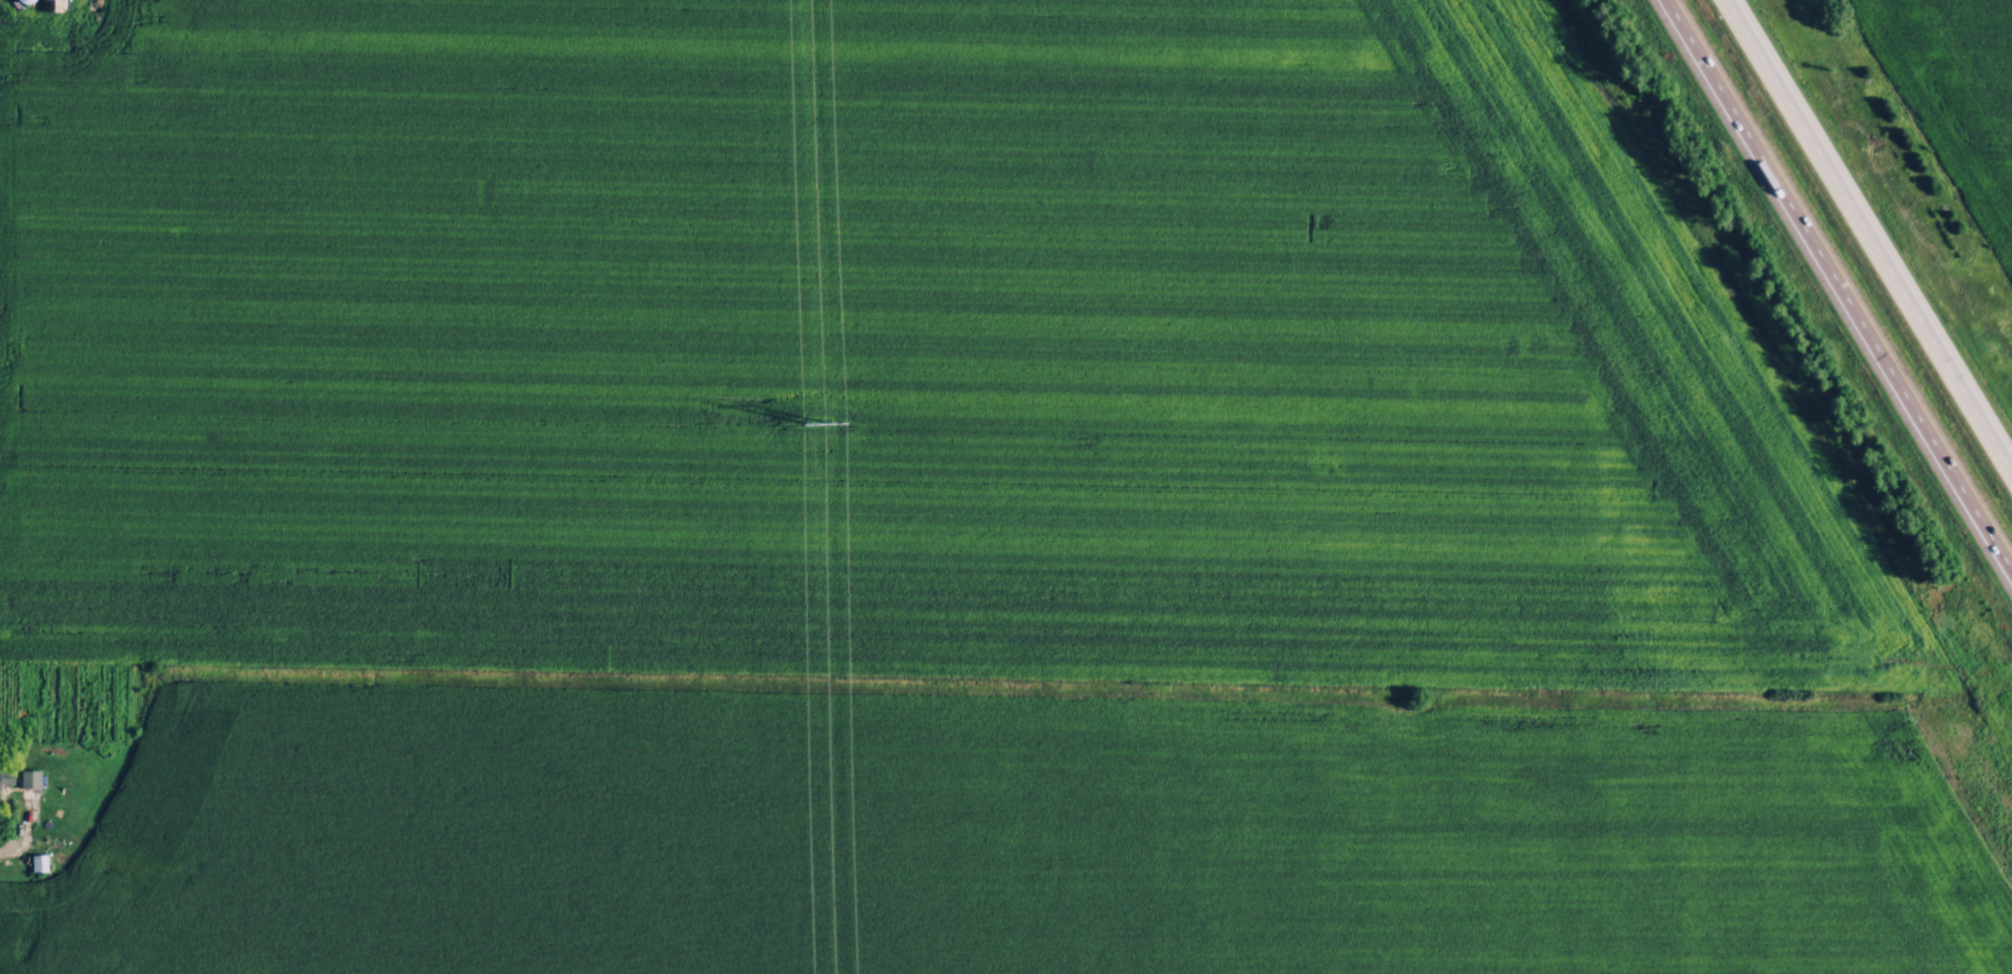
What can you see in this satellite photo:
building: (24, 0)
building: (51, 5)
road: (1868, 236)
road: (1837, 287)
power tower: (816, 421)
building: (22, 778)
road: (18, 849)
building: (38, 861)

